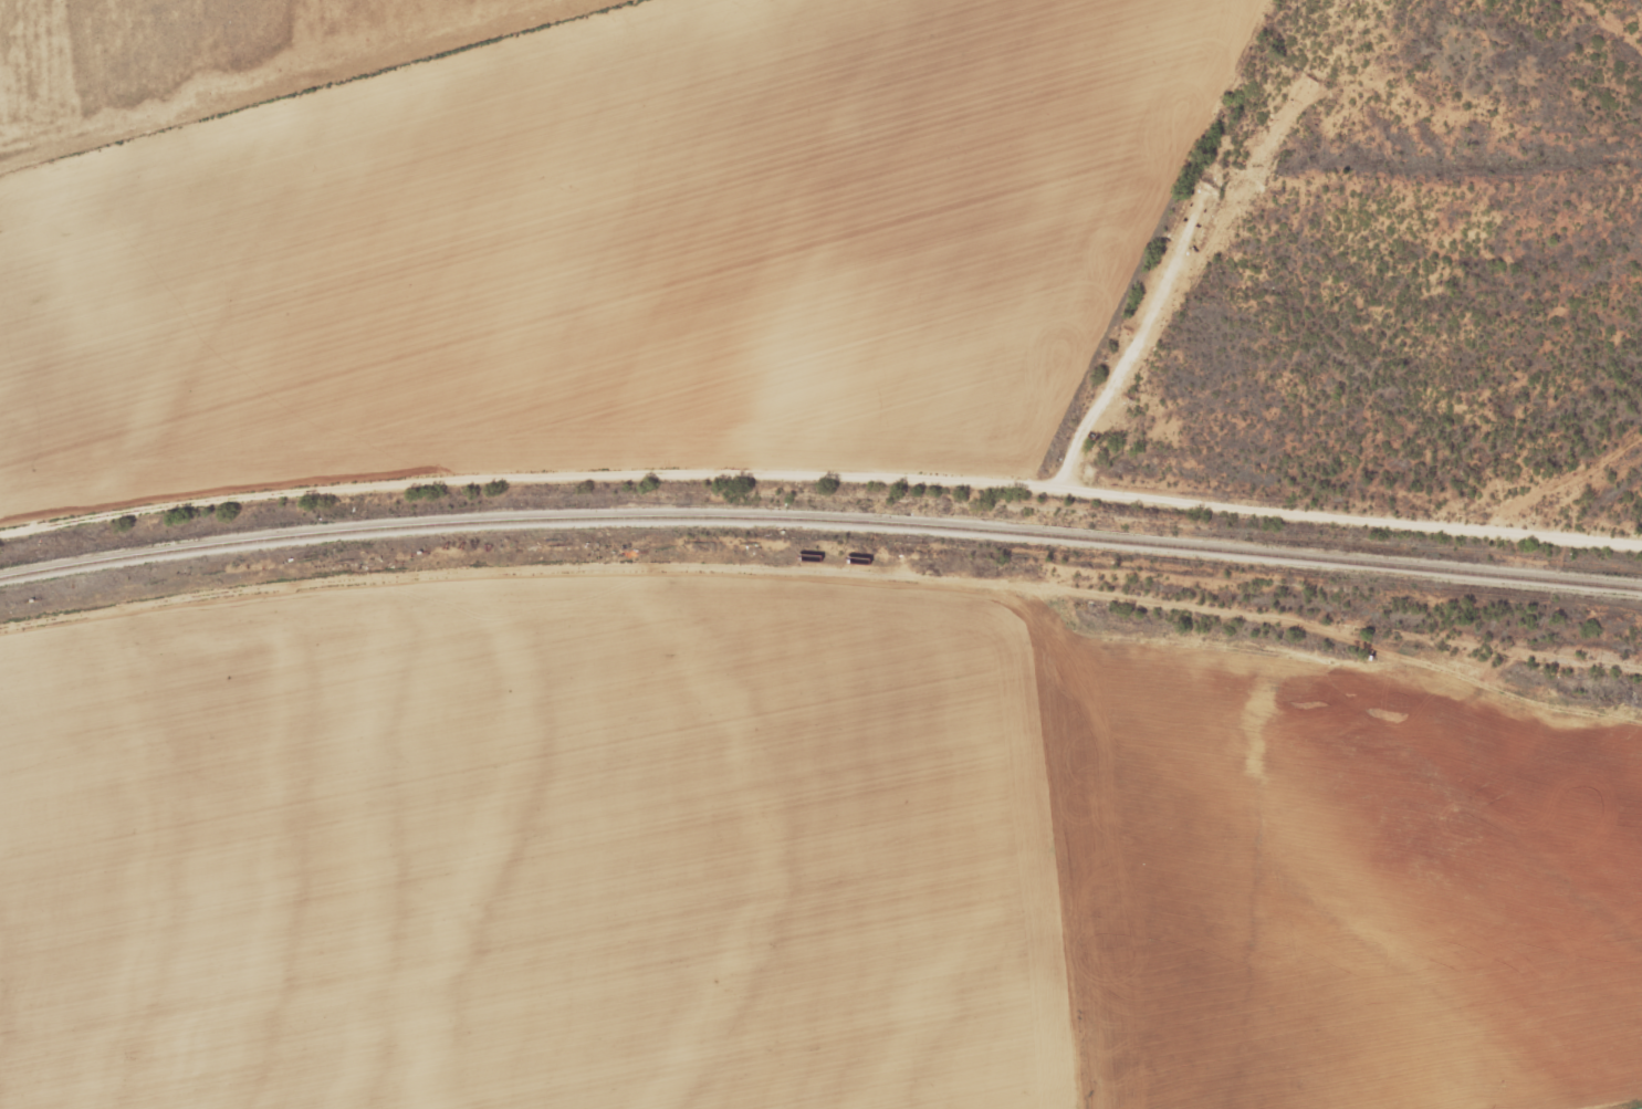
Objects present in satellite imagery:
railway: (820, 519)
road: (650, 564)
road: (1412, 657)
road: (1582, 659)

